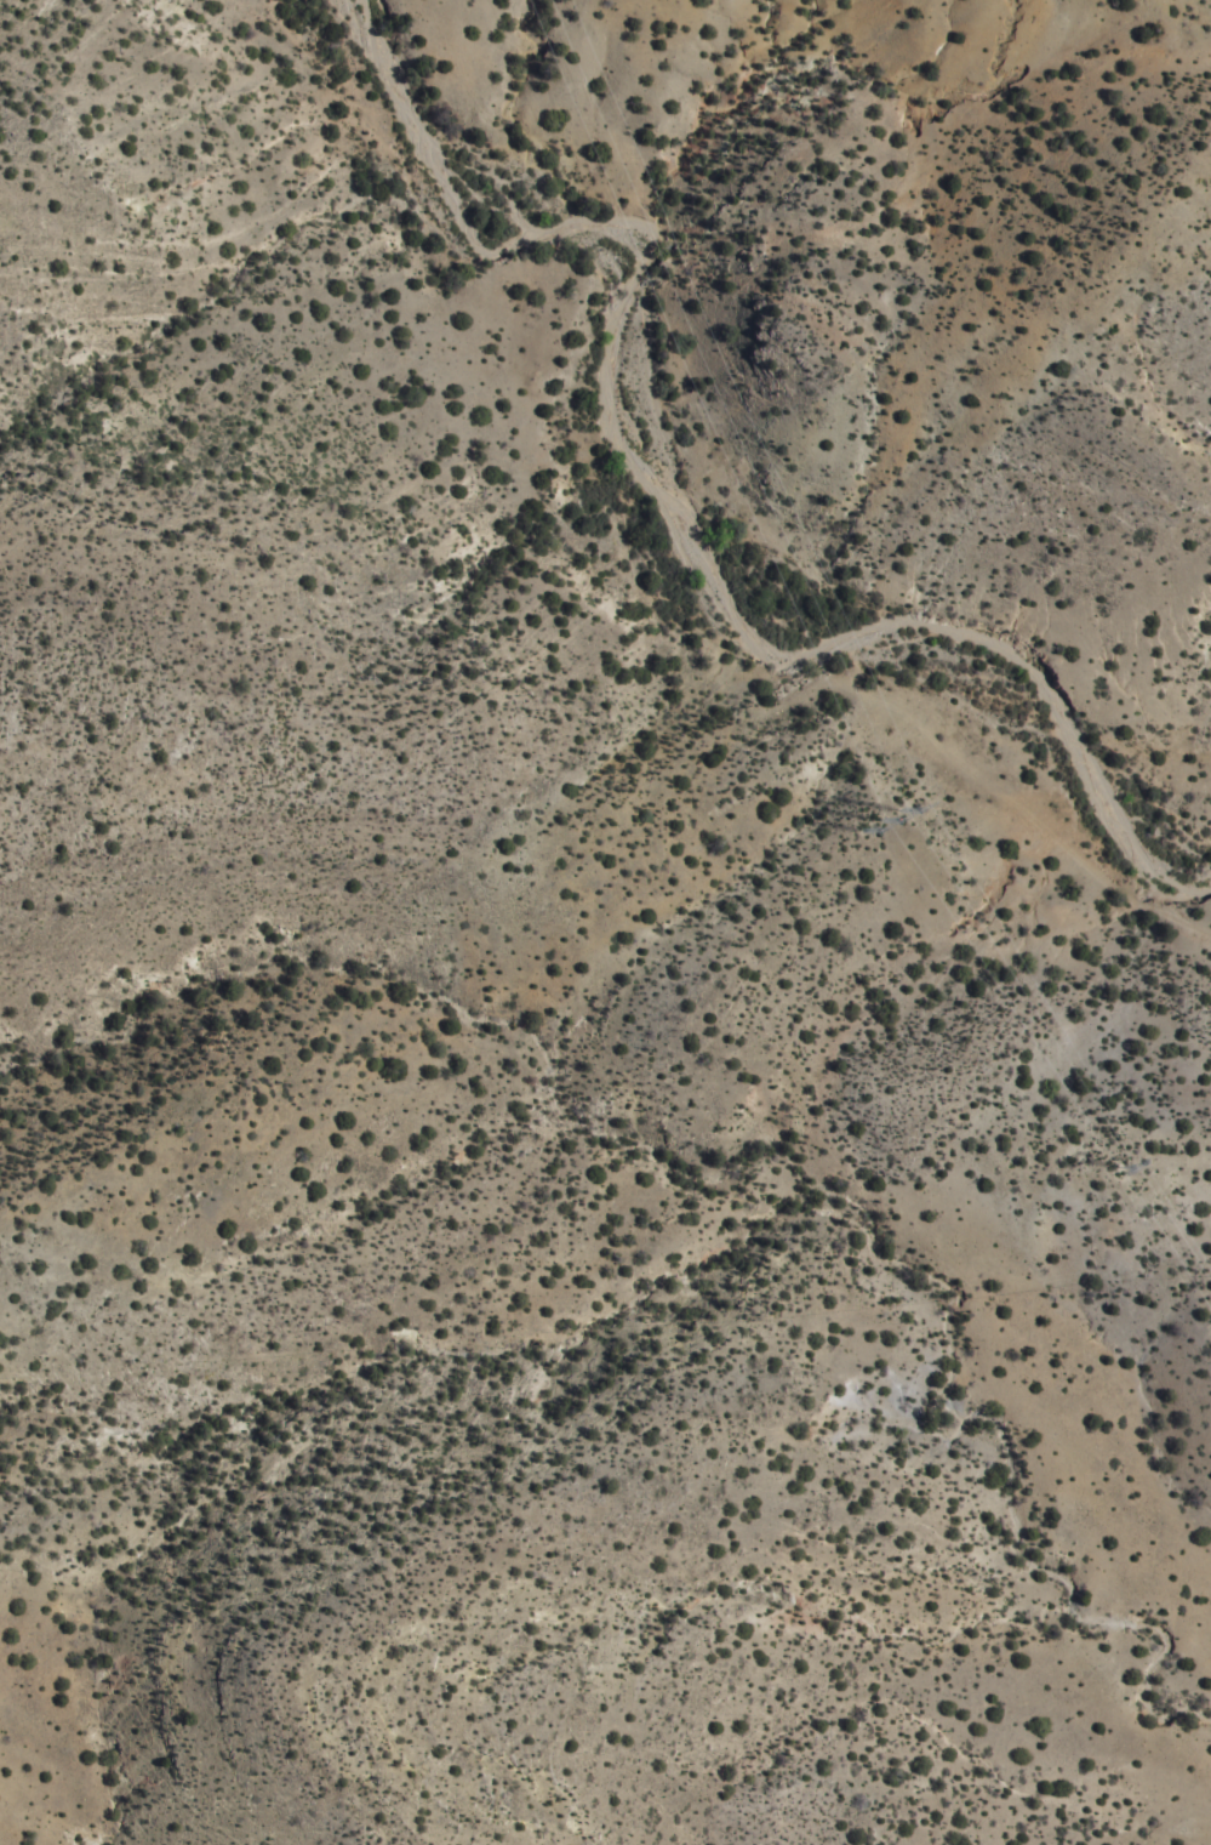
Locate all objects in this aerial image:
power tower: (872, 825)

